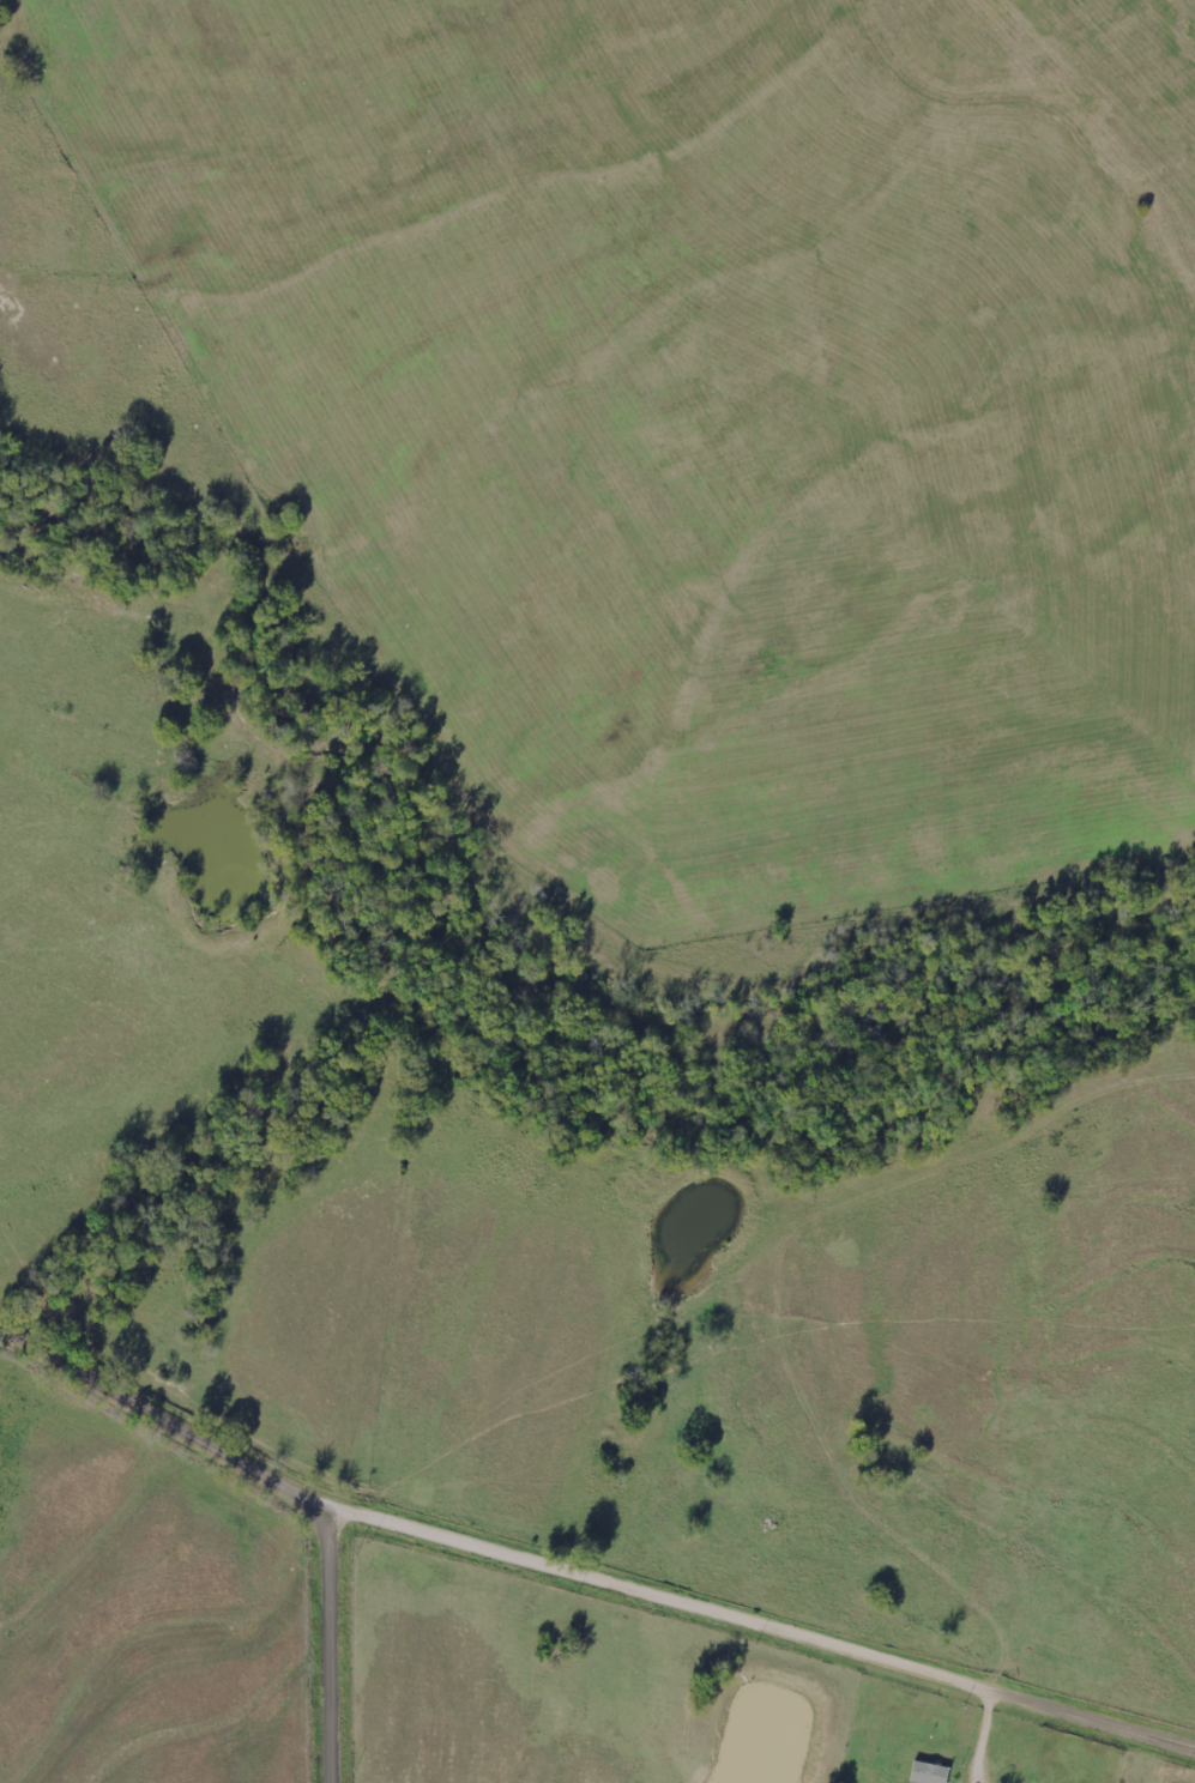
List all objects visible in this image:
road: (168, 1419)
road: (767, 1624)
road: (339, 1645)
building: (930, 1773)

